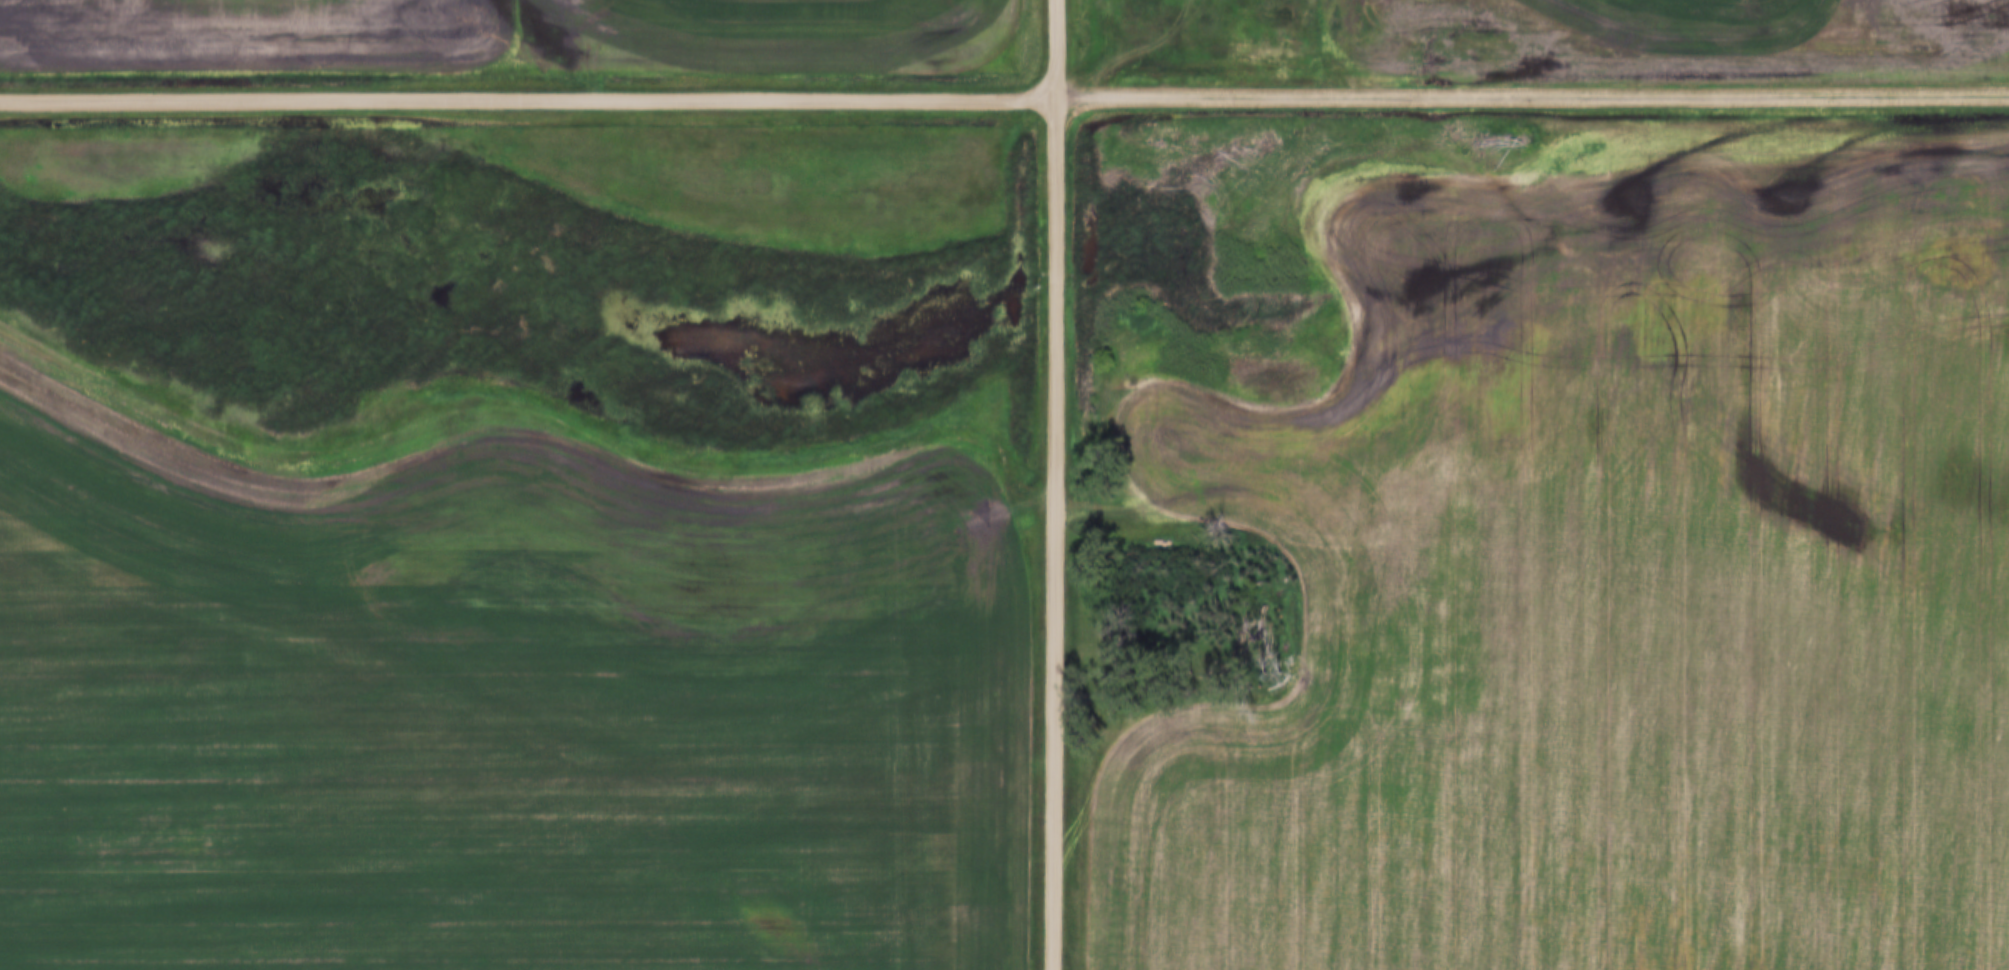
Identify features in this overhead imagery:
road: (1533, 86)
road: (528, 94)
road: (1055, 485)

